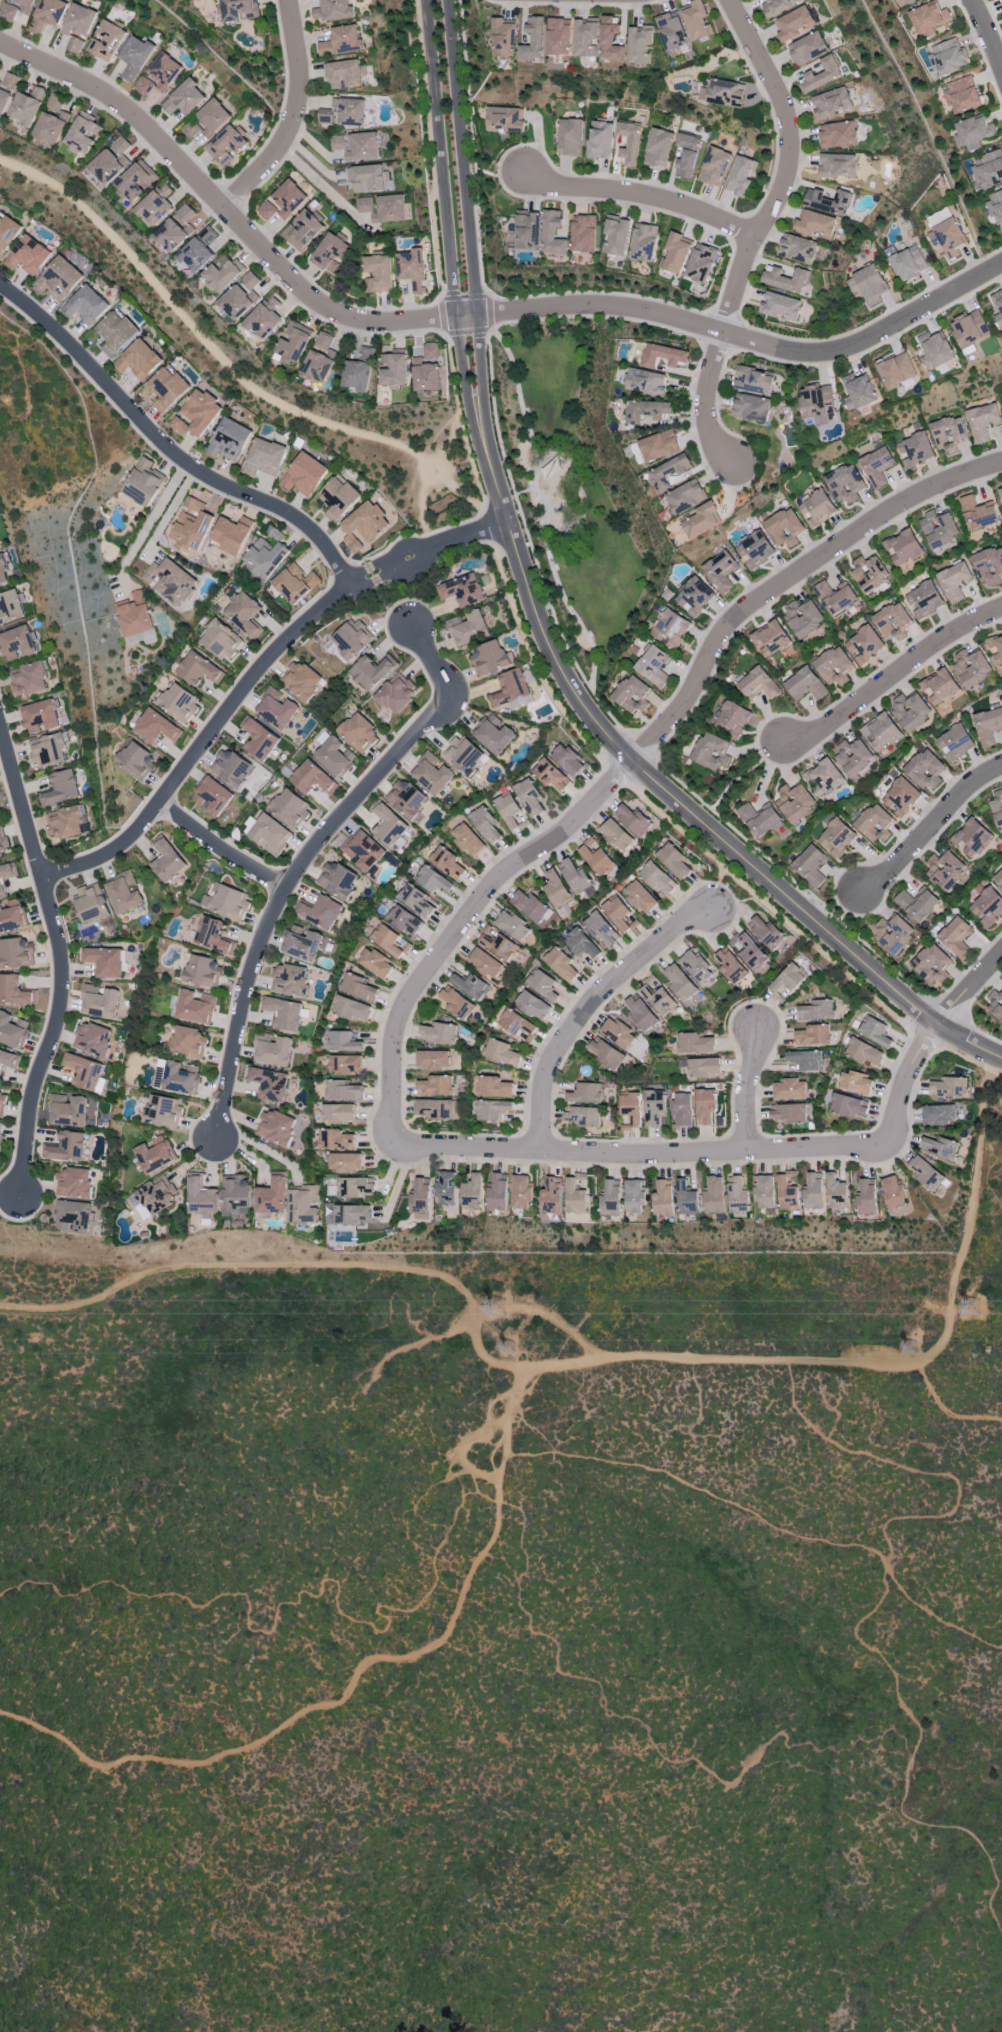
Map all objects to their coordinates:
building: (0, 1)
building: (909, 1)
road: (575, 5)
building: (16, 8)
building: (238, 10)
building: (331, 10)
building: (47, 15)
building: (929, 19)
road: (992, 19)
building: (78, 20)
building: (697, 20)
building: (794, 23)
building: (671, 32)
building: (559, 36)
road: (986, 36)
building: (503, 38)
building: (534, 39)
building: (585, 39)
building: (341, 40)
building: (611, 40)
building: (106, 41)
building: (640, 44)
building: (74, 45)
building: (808, 48)
road: (980, 53)
building: (949, 56)
building: (135, 57)
building: (344, 74)
building: (821, 74)
building: (158, 75)
road: (121, 91)
building: (6, 92)
building: (722, 93)
building: (962, 95)
building: (184, 98)
road: (282, 101)
building: (831, 102)
building: (27, 106)
building: (343, 112)
road: (298, 116)
building: (207, 119)
building: (504, 119)
building: (53, 120)
road: (301, 131)
building: (973, 131)
building: (83, 134)
building: (838, 135)
building: (569, 137)
building: (599, 140)
building: (628, 143)
building: (226, 145)
road: (314, 146)
building: (356, 146)
road: (471, 146)
road: (429, 147)
building: (658, 147)
building: (686, 154)
building: (111, 161)
road: (313, 163)
building: (837, 165)
building: (714, 166)
building: (989, 168)
building: (739, 175)
building: (369, 178)
building: (136, 181)
road: (325, 190)
building: (288, 198)
road: (640, 199)
building: (827, 200)
building: (156, 205)
building: (995, 205)
road: (633, 206)
building: (383, 208)
road: (724, 208)
road: (228, 211)
building: (266, 211)
building: (185, 213)
road: (463, 215)
road: (444, 216)
road: (216, 220)
building: (816, 224)
building: (302, 230)
road: (757, 230)
building: (527, 231)
building: (552, 232)
building: (7, 233)
building: (173, 234)
building: (583, 234)
building: (615, 236)
building: (947, 238)
building: (643, 242)
building: (797, 249)
building: (198, 250)
building: (330, 252)
building: (676, 252)
building: (27, 255)
building: (700, 263)
building: (908, 263)
building: (412, 269)
building: (222, 272)
building: (377, 273)
building: (58, 278)
building: (785, 278)
building: (868, 285)
road: (602, 292)
road: (744, 292)
road: (326, 293)
building: (240, 296)
road: (463, 296)
building: (86, 305)
building: (779, 306)
road: (489, 312)
road: (443, 314)
road: (722, 317)
building: (264, 318)
building: (970, 328)
road: (469, 331)
building: (115, 333)
road: (201, 337)
road: (746, 340)
building: (294, 341)
building: (323, 341)
road: (716, 347)
building: (936, 352)
building: (664, 355)
building: (138, 359)
building: (317, 366)
building: (394, 368)
building: (427, 369)
building: (359, 371)
building: (897, 371)
building: (646, 381)
building: (753, 381)
building: (167, 388)
building: (860, 393)
building: (817, 403)
road: (459, 405)
building: (751, 407)
road: (520, 408)
building: (649, 412)
building: (196, 414)
building: (982, 421)
building: (948, 433)
building: (229, 440)
building: (658, 446)
road: (152, 448)
building: (914, 449)
road: (172, 451)
building: (264, 458)
road: (469, 458)
road: (756, 458)
building: (877, 466)
building: (669, 472)
building: (304, 474)
building: (143, 482)
building: (845, 483)
park: (563, 487)
road: (455, 491)
building: (1000, 494)
building: (685, 496)
building: (338, 498)
road: (422, 500)
building: (816, 508)
road: (170, 512)
building: (977, 513)
road: (149, 520)
building: (701, 520)
road: (457, 523)
building: (189, 524)
building: (364, 525)
road: (489, 527)
building: (784, 527)
building: (938, 528)
building: (232, 534)
road: (388, 546)
building: (902, 547)
road: (440, 550)
building: (755, 550)
building: (266, 554)
road: (346, 559)
road: (335, 560)
road: (788, 562)
building: (989, 566)
road: (339, 569)
building: (4, 570)
building: (720, 571)
building: (869, 573)
road: (788, 579)
building: (170, 580)
building: (953, 581)
building: (294, 583)
road: (558, 587)
building: (462, 590)
building: (694, 596)
building: (835, 596)
building: (924, 599)
road: (386, 606)
building: (11, 607)
building: (245, 614)
building: (134, 615)
building: (803, 617)
building: (893, 621)
building: (467, 628)
building: (671, 628)
building: (351, 638)
building: (770, 638)
building: (221, 640)
building: (18, 643)
building: (864, 645)
building: (995, 649)
building: (489, 658)
building: (654, 666)
building: (834, 666)
building: (971, 667)
building: (198, 669)
building: (372, 671)
road: (580, 673)
building: (28, 679)
road: (894, 679)
building: (301, 680)
building: (757, 683)
building: (805, 684)
building: (939, 686)
building: (510, 688)
building: (395, 693)
building: (632, 694)
building: (178, 703)
building: (276, 708)
building: (910, 711)
building: (39, 716)
building: (734, 718)
road: (853, 718)
building: (988, 726)
building: (156, 727)
road: (199, 727)
building: (358, 732)
building: (880, 732)
building: (494, 734)
road: (211, 736)
building: (258, 738)
building: (955, 742)
building: (47, 750)
building: (712, 752)
building: (335, 756)
building: (462, 756)
building: (853, 756)
building: (568, 760)
building: (136, 761)
building: (231, 767)
building: (924, 769)
building: (432, 773)
building: (551, 775)
building: (312, 778)
building: (823, 778)
building: (61, 788)
building: (212, 796)
road: (673, 797)
building: (900, 797)
building: (405, 798)
building: (530, 798)
building: (795, 802)
building: (997, 807)
building: (290, 808)
building: (510, 812)
building: (759, 818)
road: (12, 820)
building: (633, 820)
building: (66, 821)
building: (874, 823)
building: (486, 824)
building: (388, 825)
road: (931, 830)
building: (269, 834)
building: (615, 835)
building: (836, 838)
building: (972, 838)
building: (468, 840)
building: (3, 842)
road: (696, 845)
road: (222, 848)
building: (363, 850)
road: (923, 851)
building: (595, 857)
road: (309, 859)
building: (673, 860)
building: (167, 861)
road: (41, 862)
building: (447, 862)
building: (810, 865)
building: (945, 870)
building: (6, 875)
building: (575, 876)
building: (657, 878)
building: (999, 878)
building: (337, 880)
building: (434, 880)
building: (556, 889)
building: (122, 893)
building: (640, 897)
building: (416, 900)
building: (91, 902)
building: (227, 903)
building: (917, 903)
building: (531, 906)
building: (987, 906)
building: (320, 912)
building: (11, 915)
building: (620, 915)
road: (843, 915)
building: (405, 921)
road: (465, 925)
building: (513, 926)
building: (601, 928)
building: (766, 932)
building: (893, 934)
building: (213, 936)
building: (956, 937)
building: (389, 941)
building: (301, 942)
building: (581, 943)
building: (498, 944)
building: (748, 951)
building: (15, 954)
building: (104, 961)
road: (64, 962)
building: (376, 963)
building: (486, 963)
building: (561, 964)
building: (932, 965)
building: (696, 966)
building: (730, 967)
building: (202, 971)
road: (904, 978)
building: (788, 979)
building: (289, 980)
building: (679, 981)
building: (470, 985)
building: (543, 985)
road: (626, 985)
building: (358, 987)
building: (15, 991)
road: (971, 995)
building: (657, 996)
road: (976, 997)
building: (100, 1001)
building: (455, 1003)
building: (533, 1005)
building: (995, 1005)
building: (195, 1006)
building: (351, 1009)
road: (588, 1009)
building: (816, 1010)
building: (283, 1013)
building: (642, 1014)
building: (519, 1025)
building: (12, 1030)
building: (875, 1031)
building: (439, 1033)
building: (617, 1033)
building: (813, 1035)
building: (92, 1038)
building: (187, 1042)
building: (344, 1042)
building: (694, 1043)
building: (272, 1049)
building: (502, 1052)
building: (864, 1052)
building: (607, 1054)
building: (8, 1059)
building: (433, 1059)
building: (806, 1059)
road: (984, 1061)
building: (345, 1064)
building: (704, 1067)
road: (993, 1070)
building: (84, 1071)
building: (176, 1076)
building: (854, 1082)
building: (269, 1083)
building: (435, 1086)
building: (493, 1087)
road: (751, 1087)
building: (949, 1087)
building: (790, 1089)
building: (343, 1090)
building: (585, 1093)
building: (2, 1104)
building: (847, 1105)
building: (705, 1106)
building: (654, 1107)
building: (682, 1108)
building: (434, 1109)
building: (492, 1109)
building: (630, 1109)
building: (67, 1110)
building: (162, 1111)
building: (338, 1113)
building: (789, 1113)
building: (939, 1114)
building: (583, 1116)
building: (275, 1127)
building: (0, 1131)
building: (335, 1139)
building: (66, 1147)
building: (939, 1147)
road: (705, 1152)
building: (155, 1154)
building: (344, 1162)
building: (925, 1173)
building: (73, 1182)
building: (355, 1186)
building: (446, 1188)
building: (813, 1191)
building: (471, 1192)
building: (496, 1192)
building: (520, 1192)
building: (764, 1192)
building: (835, 1192)
building: (893, 1192)
building: (786, 1193)
building: (574, 1194)
building: (235, 1195)
building: (712, 1195)
building: (736, 1195)
building: (154, 1196)
building: (200, 1196)
building: (270, 1196)
building: (550, 1196)
building: (634, 1196)
building: (420, 1197)
building: (609, 1197)
building: (866, 1197)
building: (662, 1198)
building: (685, 1198)
building: (302, 1203)
building: (73, 1216)
road: (275, 1265)
power tower: (969, 1308)
power tower: (498, 1310)
road: (545, 1312)
power tower: (509, 1350)
power tower: (911, 1351)
road: (865, 1364)
road: (946, 1409)
road: (732, 1504)
road: (869, 1612)
road: (322, 1705)

